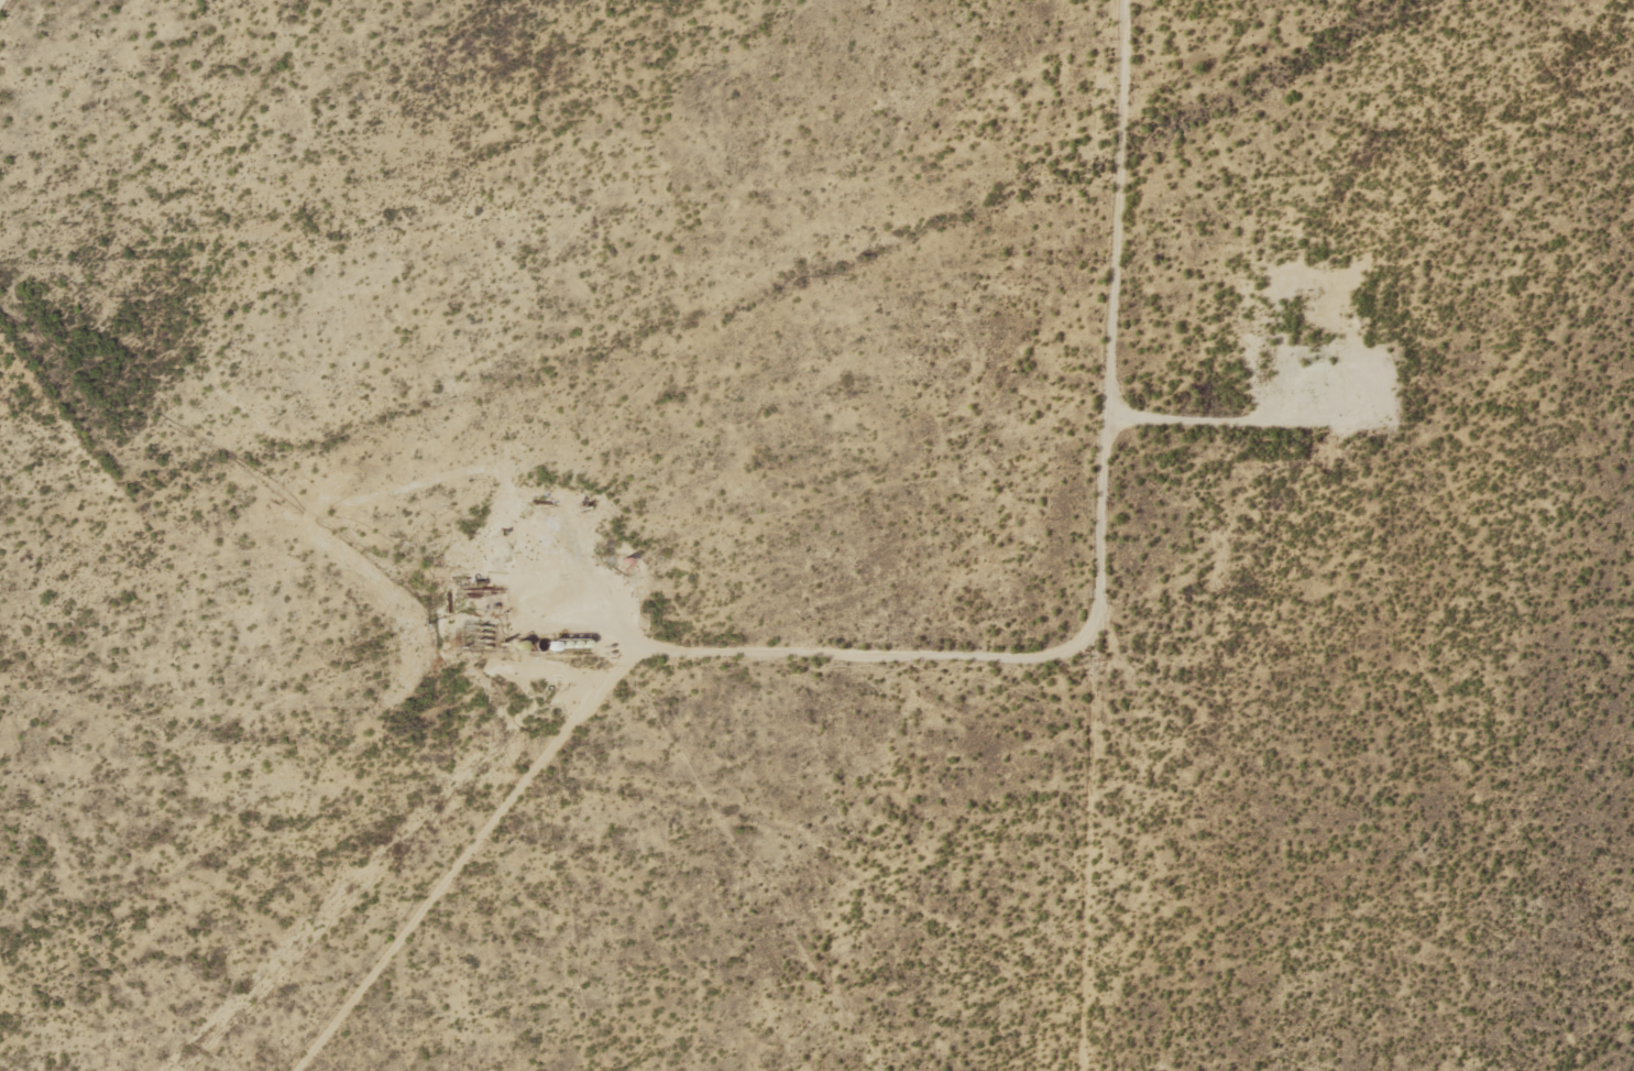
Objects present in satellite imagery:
road: (1099, 535)

